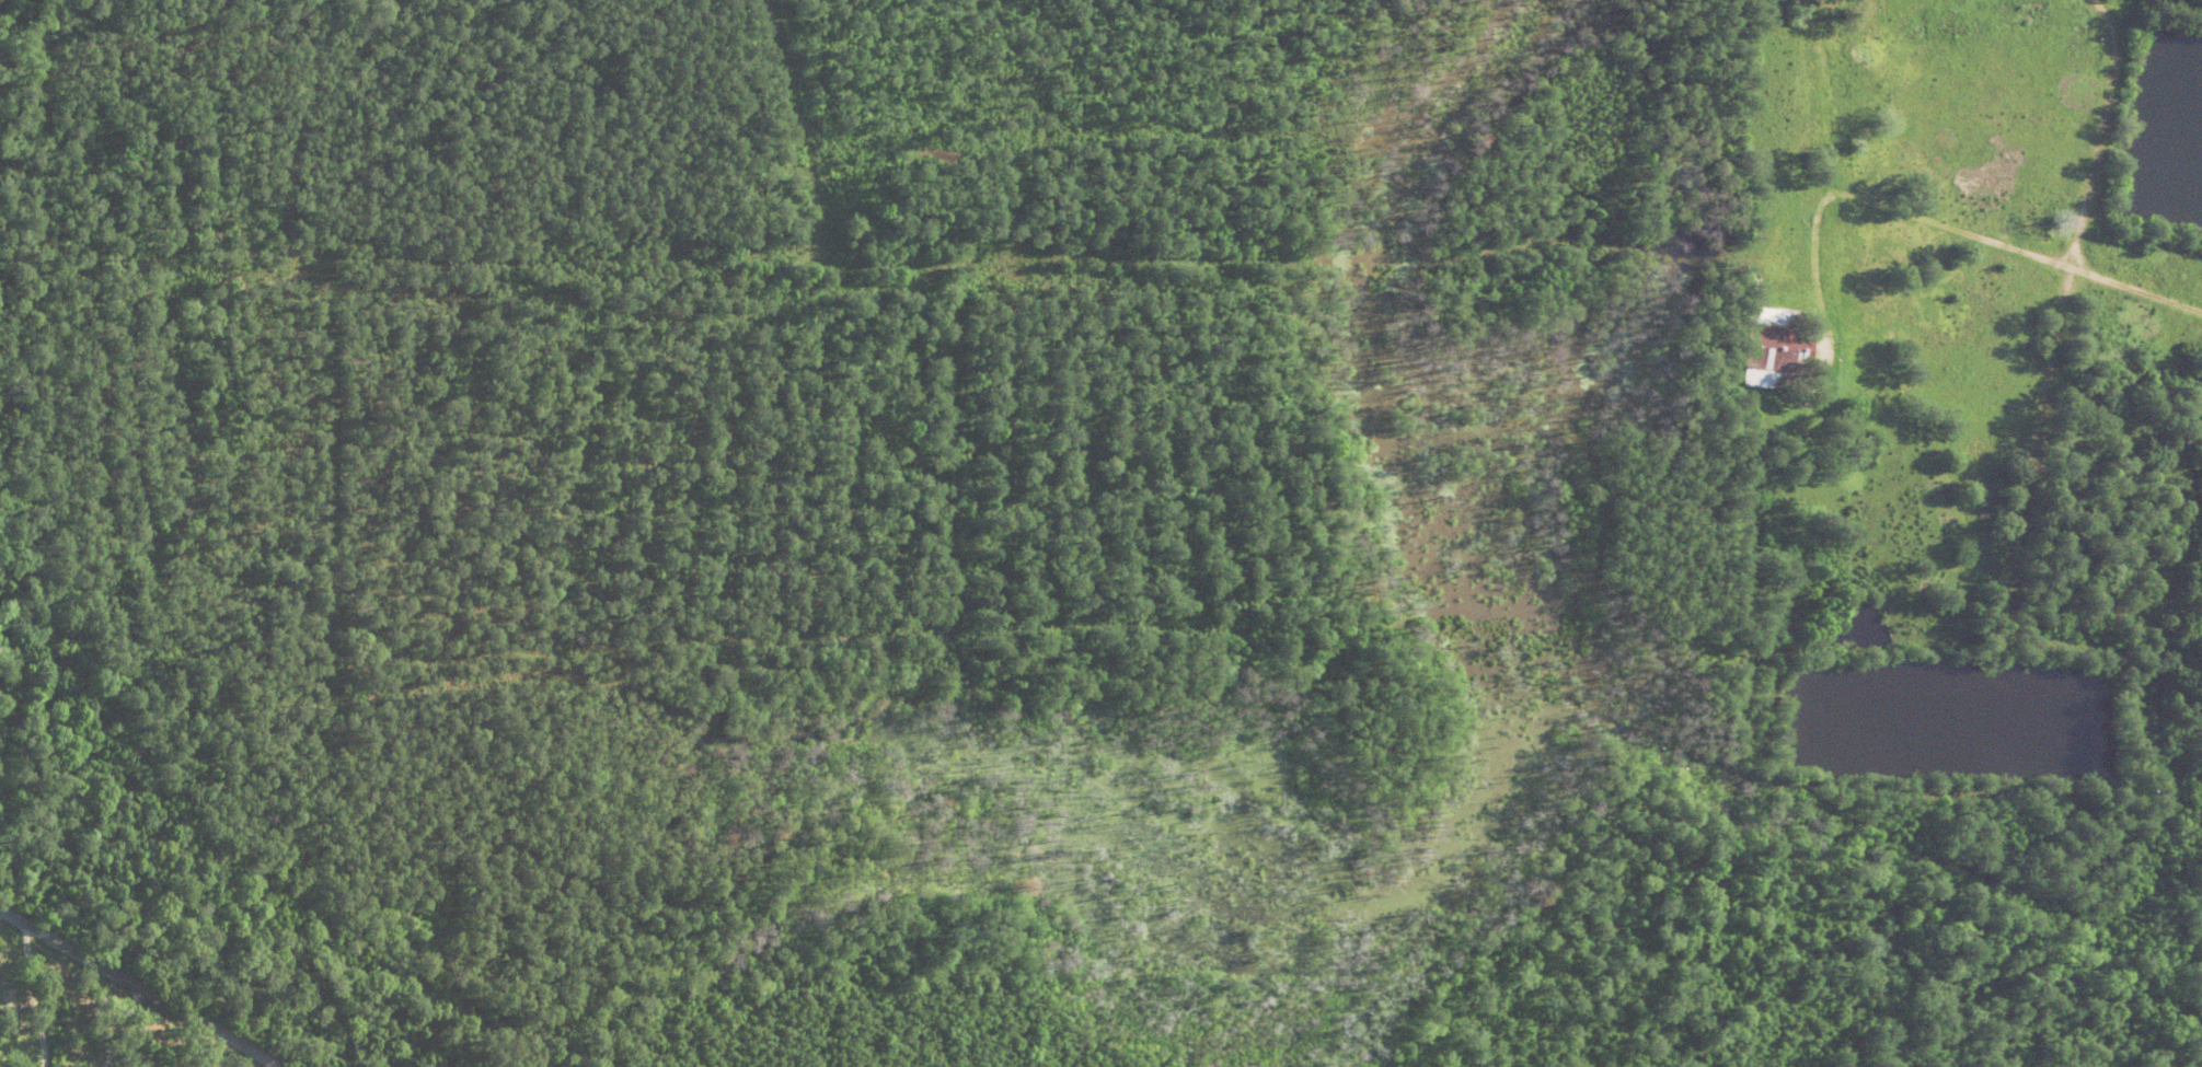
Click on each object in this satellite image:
road: (1919, 229)
road: (143, 984)

